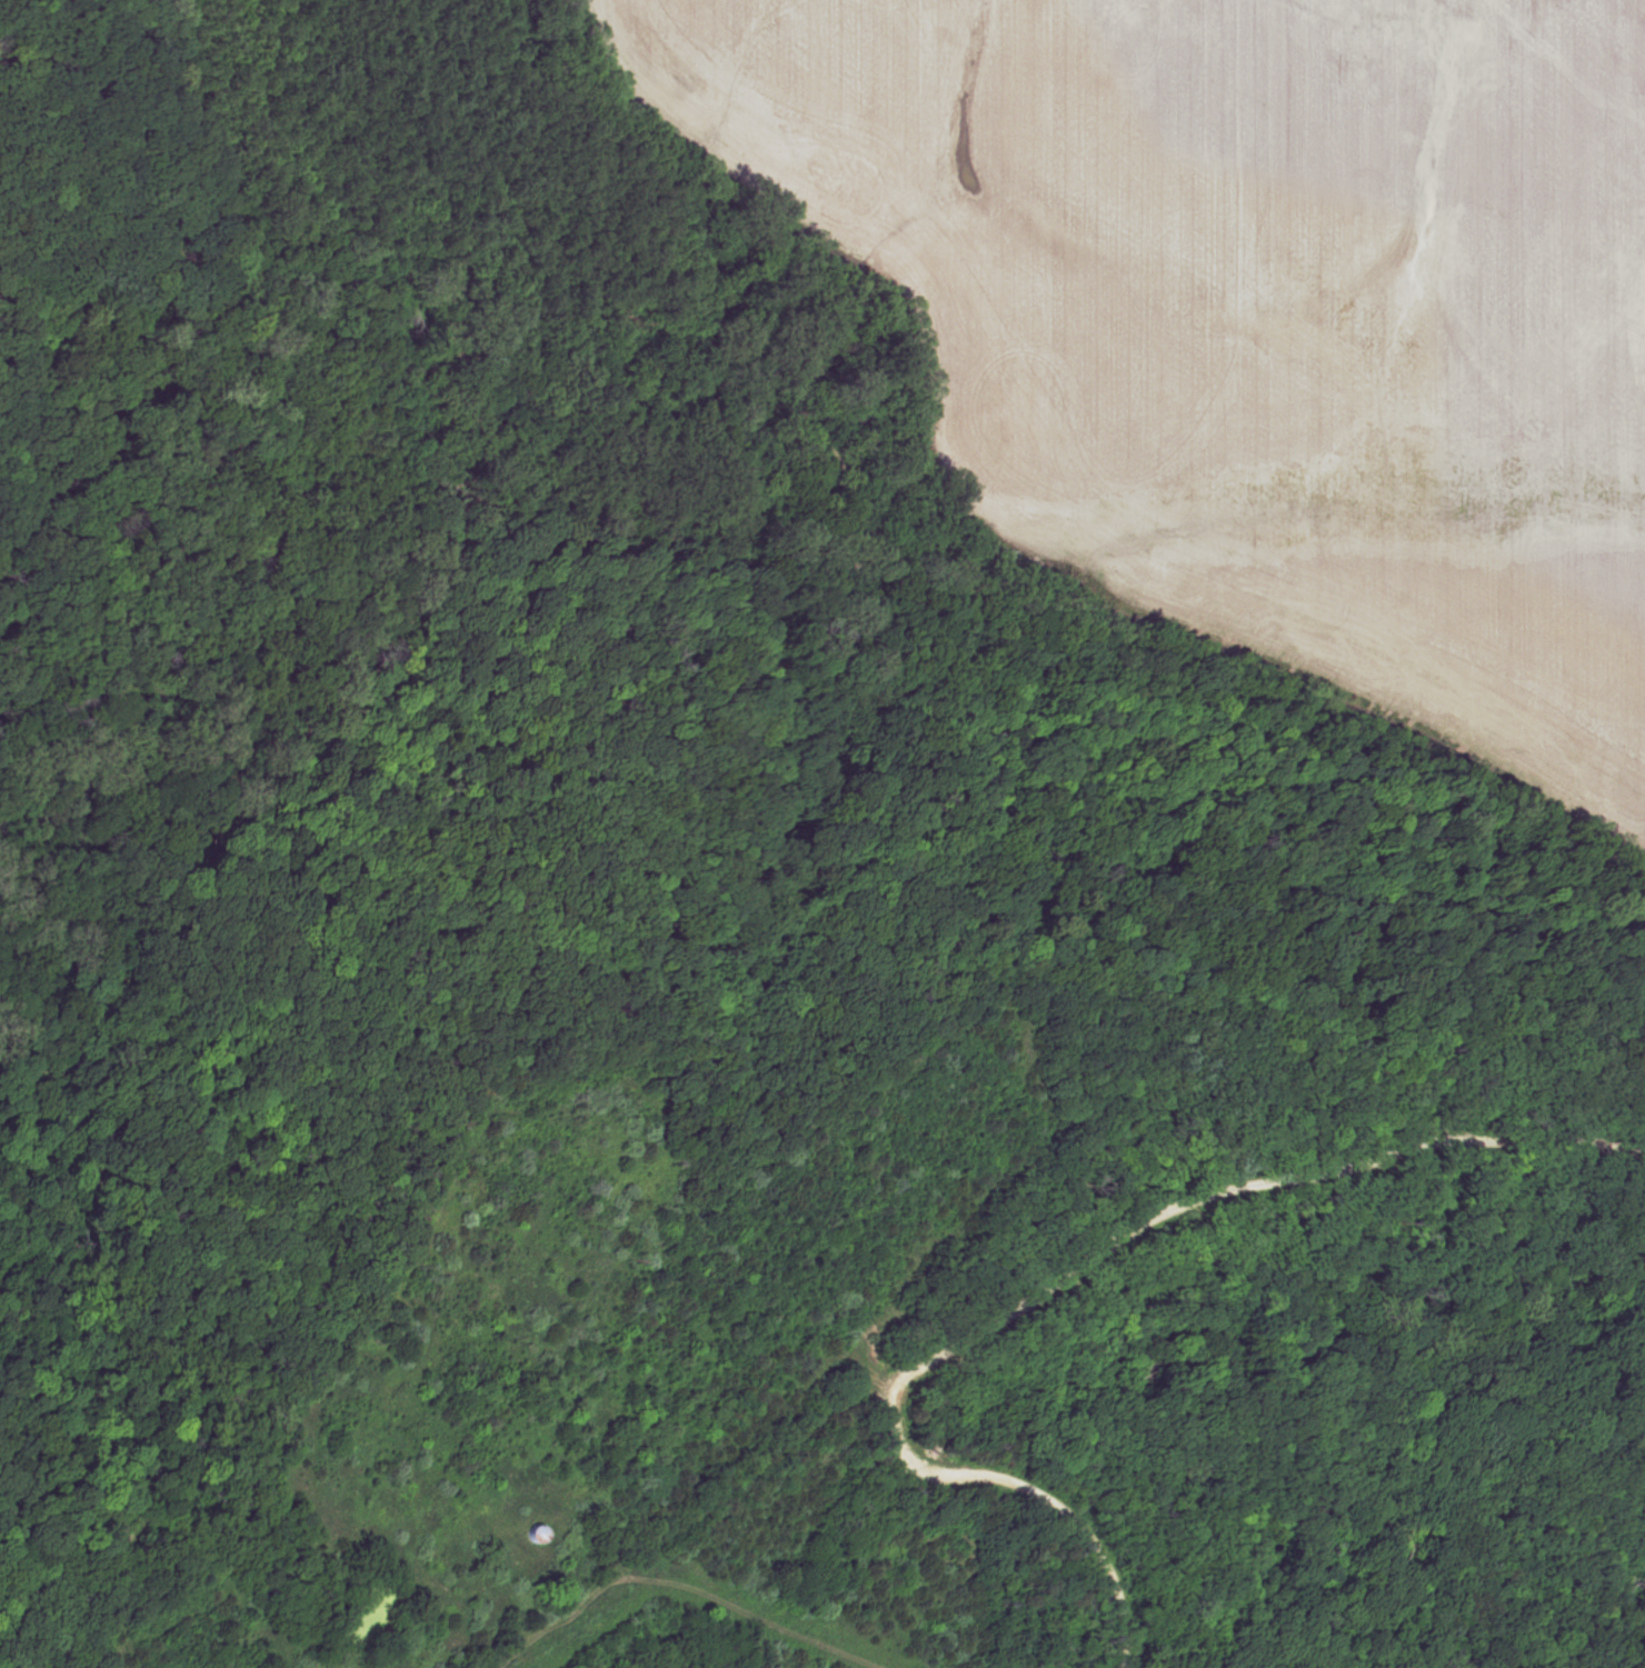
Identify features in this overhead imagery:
road: (103, 151)
crop: (1256, 322)
road: (130, 563)
road: (772, 579)
park: (822, 833)
building: (536, 1530)

